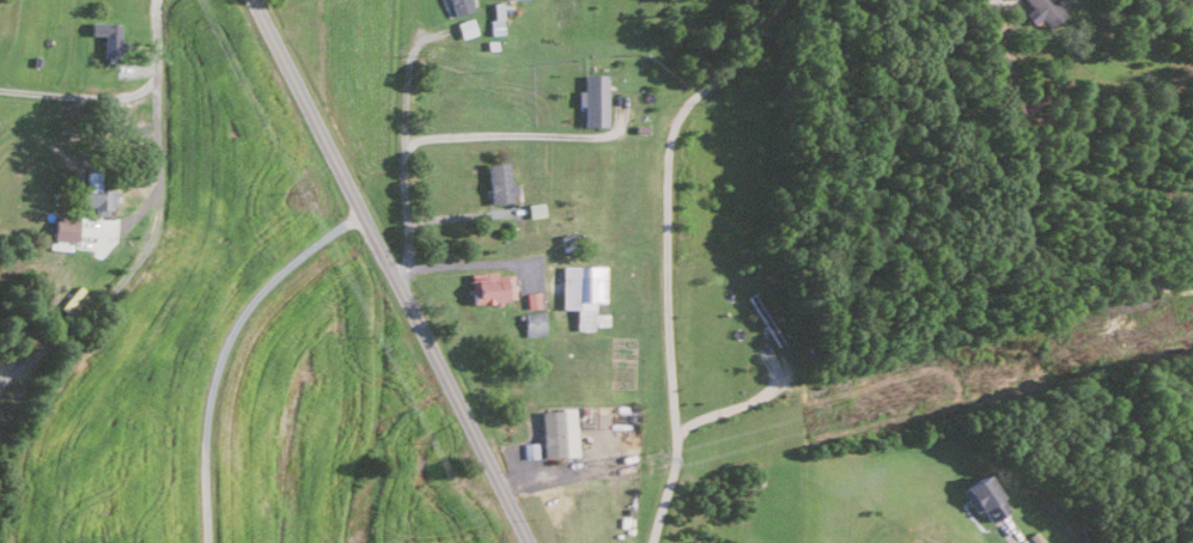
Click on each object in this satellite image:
building: (456, 6)
building: (506, 7)
building: (1041, 11)
building: (494, 17)
road: (763, 22)
building: (463, 28)
building: (105, 37)
road: (78, 94)
building: (591, 98)
road: (521, 135)
road: (404, 150)
building: (497, 181)
building: (95, 195)
building: (532, 208)
road: (459, 214)
road: (154, 224)
building: (61, 227)
road: (669, 257)
road: (467, 263)
road: (386, 271)
building: (488, 286)
building: (580, 292)
building: (530, 298)
building: (531, 322)
road: (224, 352)
road: (742, 402)
building: (555, 431)
power tower: (650, 457)
road: (550, 469)
building: (979, 495)
road: (1011, 533)

